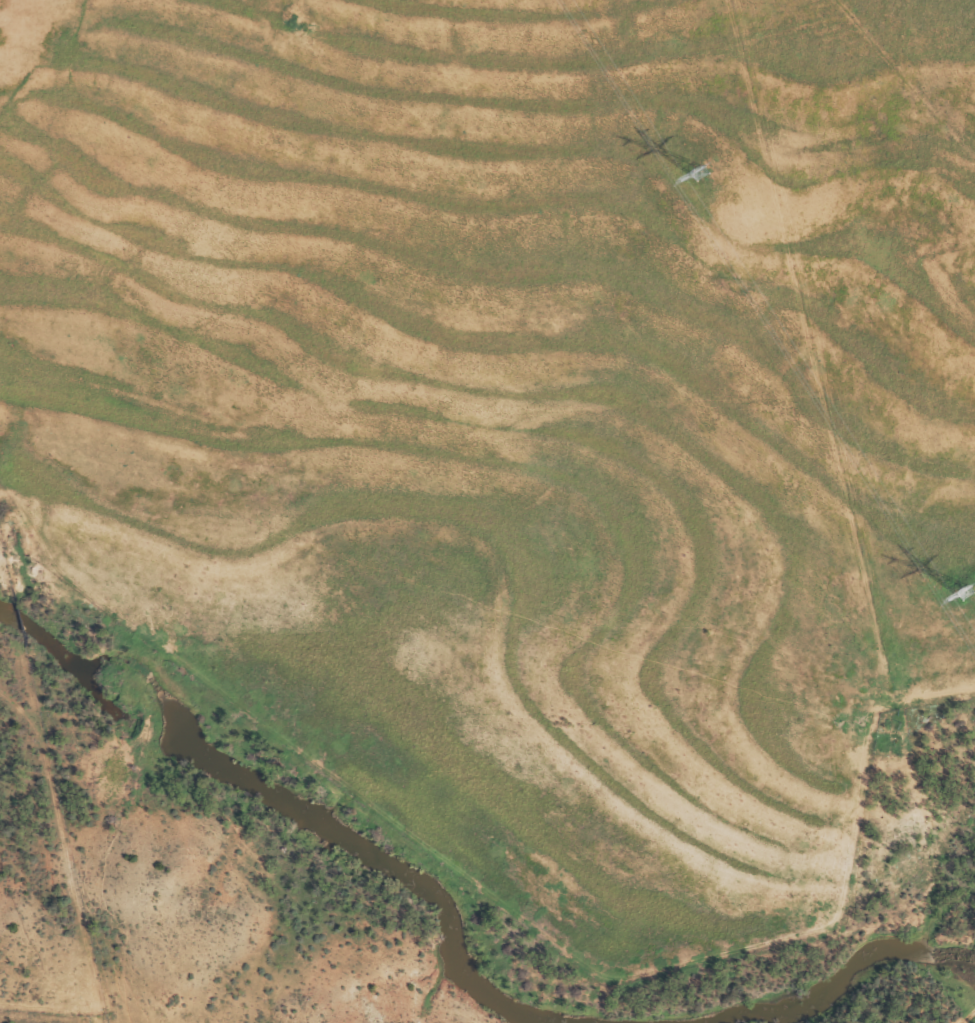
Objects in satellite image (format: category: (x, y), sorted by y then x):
power tower: (699, 173)
power tower: (965, 591)

